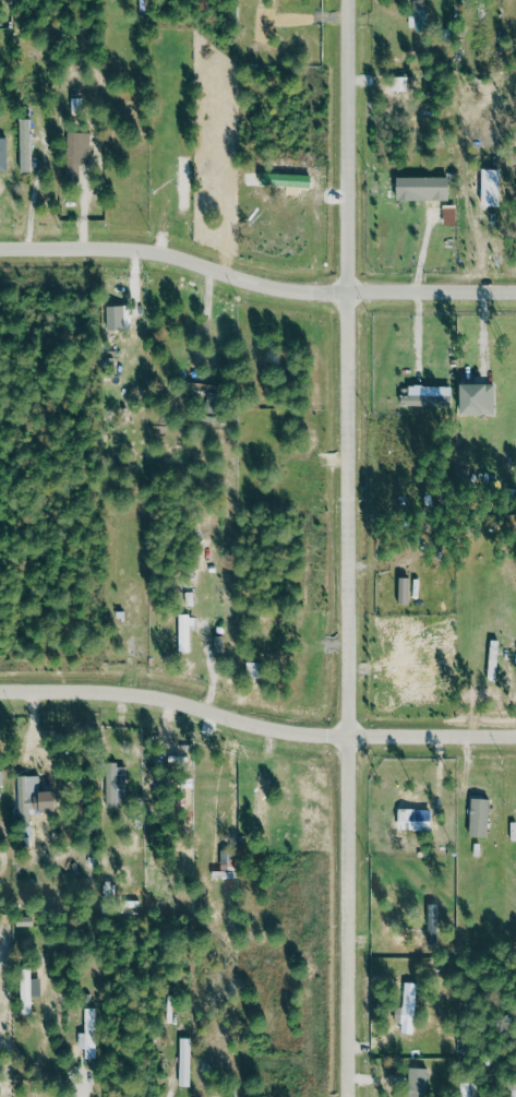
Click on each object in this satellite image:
building: (421, 13)
building: (400, 80)
building: (27, 141)
building: (77, 147)
building: (5, 151)
building: (427, 183)
building: (451, 214)
road: (256, 282)
building: (118, 313)
building: (206, 389)
building: (429, 393)
building: (480, 393)
road: (356, 548)
building: (407, 586)
building: (184, 628)
building: (495, 657)
building: (261, 666)
road: (256, 720)
building: (2, 778)
building: (117, 783)
building: (37, 794)
building: (263, 796)
building: (480, 813)
building: (417, 815)
building: (434, 921)
building: (29, 987)
building: (409, 1004)
building: (92, 1030)
building: (188, 1059)
building: (419, 1081)
building: (466, 1086)
building: (513, 1090)

